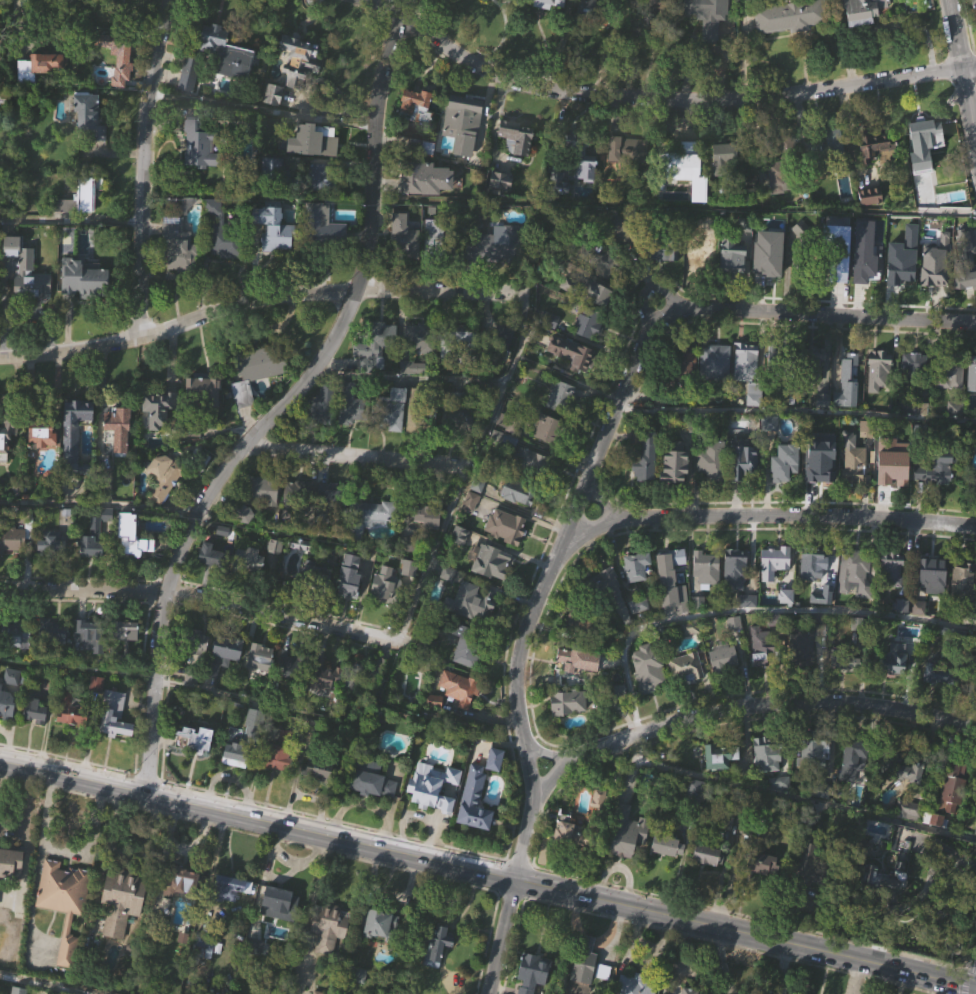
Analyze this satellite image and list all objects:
building: (972, 2)
building: (550, 3)
building: (594, 8)
building: (496, 9)
building: (865, 11)
building: (707, 15)
building: (791, 16)
building: (649, 19)
building: (550, 23)
building: (591, 25)
building: (862, 28)
building: (790, 44)
building: (217, 56)
building: (120, 57)
building: (299, 59)
building: (39, 66)
road: (963, 68)
building: (226, 78)
building: (299, 86)
building: (40, 93)
building: (271, 95)
building: (416, 98)
road: (658, 99)
building: (190, 100)
road: (260, 111)
building: (89, 115)
building: (278, 122)
building: (464, 122)
building: (518, 134)
building: (928, 136)
building: (90, 141)
building: (316, 142)
building: (199, 144)
building: (420, 146)
building: (875, 146)
building: (826, 147)
building: (463, 150)
building: (628, 150)
building: (583, 157)
building: (726, 157)
building: (683, 160)
building: (926, 160)
building: (518, 162)
road: (143, 166)
building: (314, 168)
building: (826, 170)
building: (200, 171)
building: (317, 175)
building: (877, 175)
building: (629, 176)
building: (783, 176)
building: (426, 178)
building: (501, 180)
building: (557, 184)
building: (273, 193)
building: (585, 194)
building: (688, 195)
building: (79, 197)
building: (871, 197)
building: (320, 204)
building: (779, 204)
building: (425, 205)
building: (501, 207)
road: (71, 217)
building: (619, 218)
building: (87, 222)
building: (871, 223)
building: (275, 228)
building: (222, 233)
building: (324, 235)
building: (403, 238)
building: (441, 243)
building: (495, 245)
building: (178, 246)
building: (662, 248)
building: (803, 252)
building: (324, 253)
building: (276, 255)
building: (956, 258)
building: (852, 260)
building: (732, 261)
building: (599, 262)
building: (435, 266)
building: (224, 269)
building: (26, 270)
building: (399, 271)
building: (766, 271)
building: (179, 272)
building: (496, 272)
building: (900, 272)
building: (928, 275)
building: (84, 278)
building: (840, 279)
building: (866, 280)
building: (733, 285)
building: (588, 291)
building: (27, 297)
building: (934, 297)
road: (258, 300)
building: (87, 305)
building: (964, 305)
road: (820, 315)
building: (588, 324)
building: (420, 338)
building: (374, 343)
building: (458, 347)
building: (498, 347)
building: (573, 353)
building: (746, 362)
building: (715, 363)
building: (785, 363)
building: (420, 366)
building: (914, 366)
building: (811, 368)
building: (878, 368)
building: (254, 370)
building: (951, 372)
building: (972, 373)
building: (674, 376)
road: (404, 379)
building: (570, 379)
building: (848, 382)
building: (886, 387)
building: (205, 390)
building: (715, 390)
building: (915, 390)
building: (685, 391)
building: (260, 392)
building: (754, 395)
building: (562, 397)
building: (972, 401)
building: (821, 404)
building: (949, 404)
building: (322, 405)
building: (351, 405)
building: (160, 407)
building: (915, 408)
building: (390, 409)
road: (796, 409)
road: (278, 410)
building: (422, 410)
building: (204, 414)
building: (457, 416)
building: (38, 425)
building: (845, 425)
building: (117, 427)
building: (323, 430)
building: (551, 430)
building: (7, 433)
building: (908, 433)
building: (75, 436)
building: (158, 436)
building: (955, 436)
building: (354, 437)
building: (393, 443)
building: (771, 450)
building: (119, 454)
building: (549, 456)
building: (645, 456)
building: (75, 457)
road: (356, 457)
building: (823, 458)
building: (713, 461)
building: (530, 462)
building: (43, 463)
building: (744, 463)
building: (786, 463)
building: (5, 466)
building: (855, 466)
building: (674, 467)
building: (936, 469)
road: (467, 471)
building: (893, 471)
building: (163, 475)
building: (103, 483)
building: (646, 486)
building: (973, 486)
building: (712, 487)
building: (747, 488)
building: (855, 489)
building: (674, 490)
building: (785, 490)
building: (519, 492)
building: (254, 494)
building: (937, 495)
building: (328, 496)
building: (295, 497)
building: (892, 500)
road: (597, 502)
building: (164, 503)
road: (97, 504)
building: (422, 508)
building: (373, 512)
building: (263, 515)
road: (768, 516)
building: (308, 521)
building: (506, 526)
building: (472, 528)
building: (466, 535)
building: (10, 536)
building: (134, 536)
building: (245, 539)
building: (428, 541)
building: (369, 542)
building: (53, 543)
building: (405, 545)
building: (92, 548)
building: (506, 552)
building: (213, 556)
building: (250, 558)
building: (674, 560)
building: (813, 560)
building: (461, 561)
building: (491, 561)
building: (775, 561)
building: (133, 563)
building: (736, 566)
building: (930, 566)
building: (639, 567)
building: (707, 567)
building: (891, 567)
building: (12, 568)
building: (53, 570)
building: (91, 571)
building: (276, 571)
building: (855, 573)
building: (316, 574)
building: (350, 580)
building: (211, 581)
building: (249, 585)
building: (389, 587)
building: (491, 587)
building: (961, 587)
building: (775, 589)
building: (607, 592)
building: (812, 592)
building: (408, 593)
building: (706, 594)
building: (893, 596)
road: (202, 599)
building: (735, 599)
building: (317, 600)
building: (855, 600)
building: (350, 601)
building: (471, 601)
building: (933, 602)
building: (640, 605)
building: (672, 607)
building: (385, 610)
road: (753, 610)
building: (583, 621)
building: (612, 621)
building: (786, 623)
building: (747, 627)
building: (472, 628)
building: (126, 630)
building: (51, 632)
building: (639, 632)
building: (900, 632)
building: (14, 633)
building: (918, 636)
building: (90, 638)
building: (807, 638)
building: (198, 640)
road: (519, 640)
building: (468, 644)
building: (228, 646)
building: (579, 646)
building: (763, 647)
building: (261, 653)
building: (128, 657)
building: (723, 657)
building: (55, 659)
building: (847, 659)
building: (19, 661)
building: (581, 661)
building: (898, 663)
building: (89, 665)
building: (295, 665)
building: (200, 666)
building: (687, 666)
building: (649, 668)
building: (468, 674)
building: (932, 674)
building: (327, 675)
building: (802, 675)
building: (357, 676)
building: (226, 679)
building: (724, 683)
road: (179, 685)
building: (894, 685)
building: (261, 686)
building: (460, 686)
building: (578, 686)
building: (845, 687)
building: (290, 690)
building: (975, 691)
building: (687, 693)
building: (648, 694)
building: (568, 700)
building: (325, 701)
building: (7, 704)
road: (740, 705)
building: (35, 708)
building: (71, 710)
building: (460, 714)
building: (114, 715)
building: (7, 727)
building: (434, 727)
building: (569, 728)
building: (72, 734)
building: (196, 740)
building: (115, 741)
building: (815, 750)
building: (280, 751)
building: (236, 753)
building: (767, 753)
road: (552, 754)
building: (729, 754)
building: (854, 758)
building: (497, 759)
building: (195, 765)
building: (902, 766)
building: (320, 767)
building: (237, 780)
building: (768, 781)
building: (279, 782)
building: (373, 782)
building: (721, 782)
building: (955, 784)
building: (495, 785)
building: (434, 786)
building: (852, 788)
building: (819, 789)
building: (694, 791)
building: (975, 791)
building: (318, 794)
building: (902, 794)
road: (787, 796)
road: (27, 800)
building: (475, 801)
building: (372, 805)
building: (908, 807)
road: (44, 809)
building: (779, 810)
building: (433, 812)
building: (695, 814)
building: (952, 814)
building: (475, 826)
building: (579, 832)
road: (12, 833)
building: (908, 836)
road: (90, 843)
building: (669, 844)
building: (708, 854)
building: (627, 858)
building: (813, 860)
building: (10, 862)
building: (761, 862)
road: (24, 871)
building: (668, 872)
road: (488, 873)
building: (184, 877)
building: (881, 877)
building: (707, 881)
building: (229, 887)
building: (11, 889)
building: (764, 891)
road: (31, 899)
building: (121, 899)
building: (283, 899)
building: (64, 900)
building: (816, 902)
building: (885, 902)
building: (183, 908)
building: (231, 914)
building: (378, 923)
building: (329, 925)
building: (65, 927)
building: (122, 928)
building: (280, 929)
building: (439, 940)
building: (204, 944)
building: (382, 951)
building: (330, 954)
building: (585, 962)
road: (782, 968)
building: (438, 971)
building: (533, 972)
building: (207, 973)
road: (964, 973)
building: (258, 975)
building: (354, 975)
road: (46, 984)
building: (637, 984)
building: (15, 992)
building: (318, 992)

